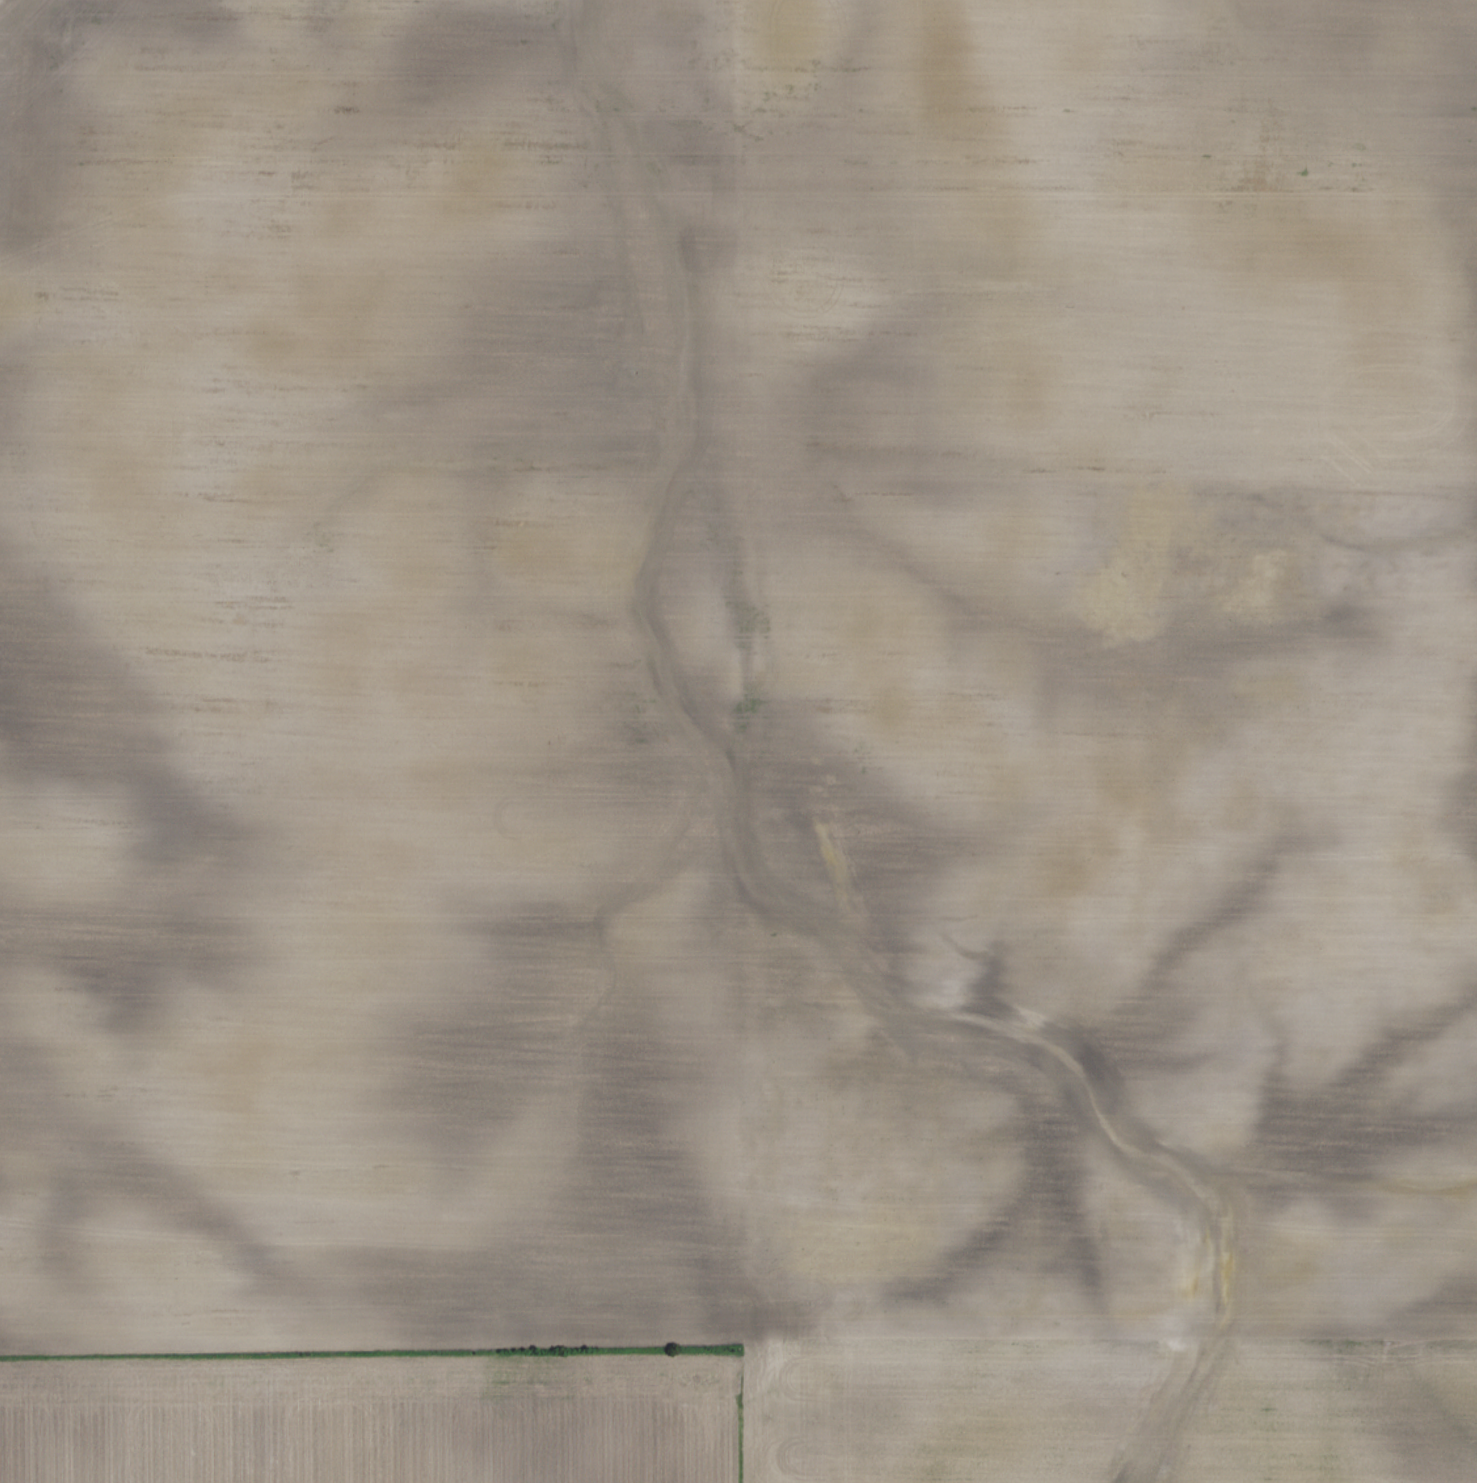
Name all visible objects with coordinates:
road: (1317, 529)

